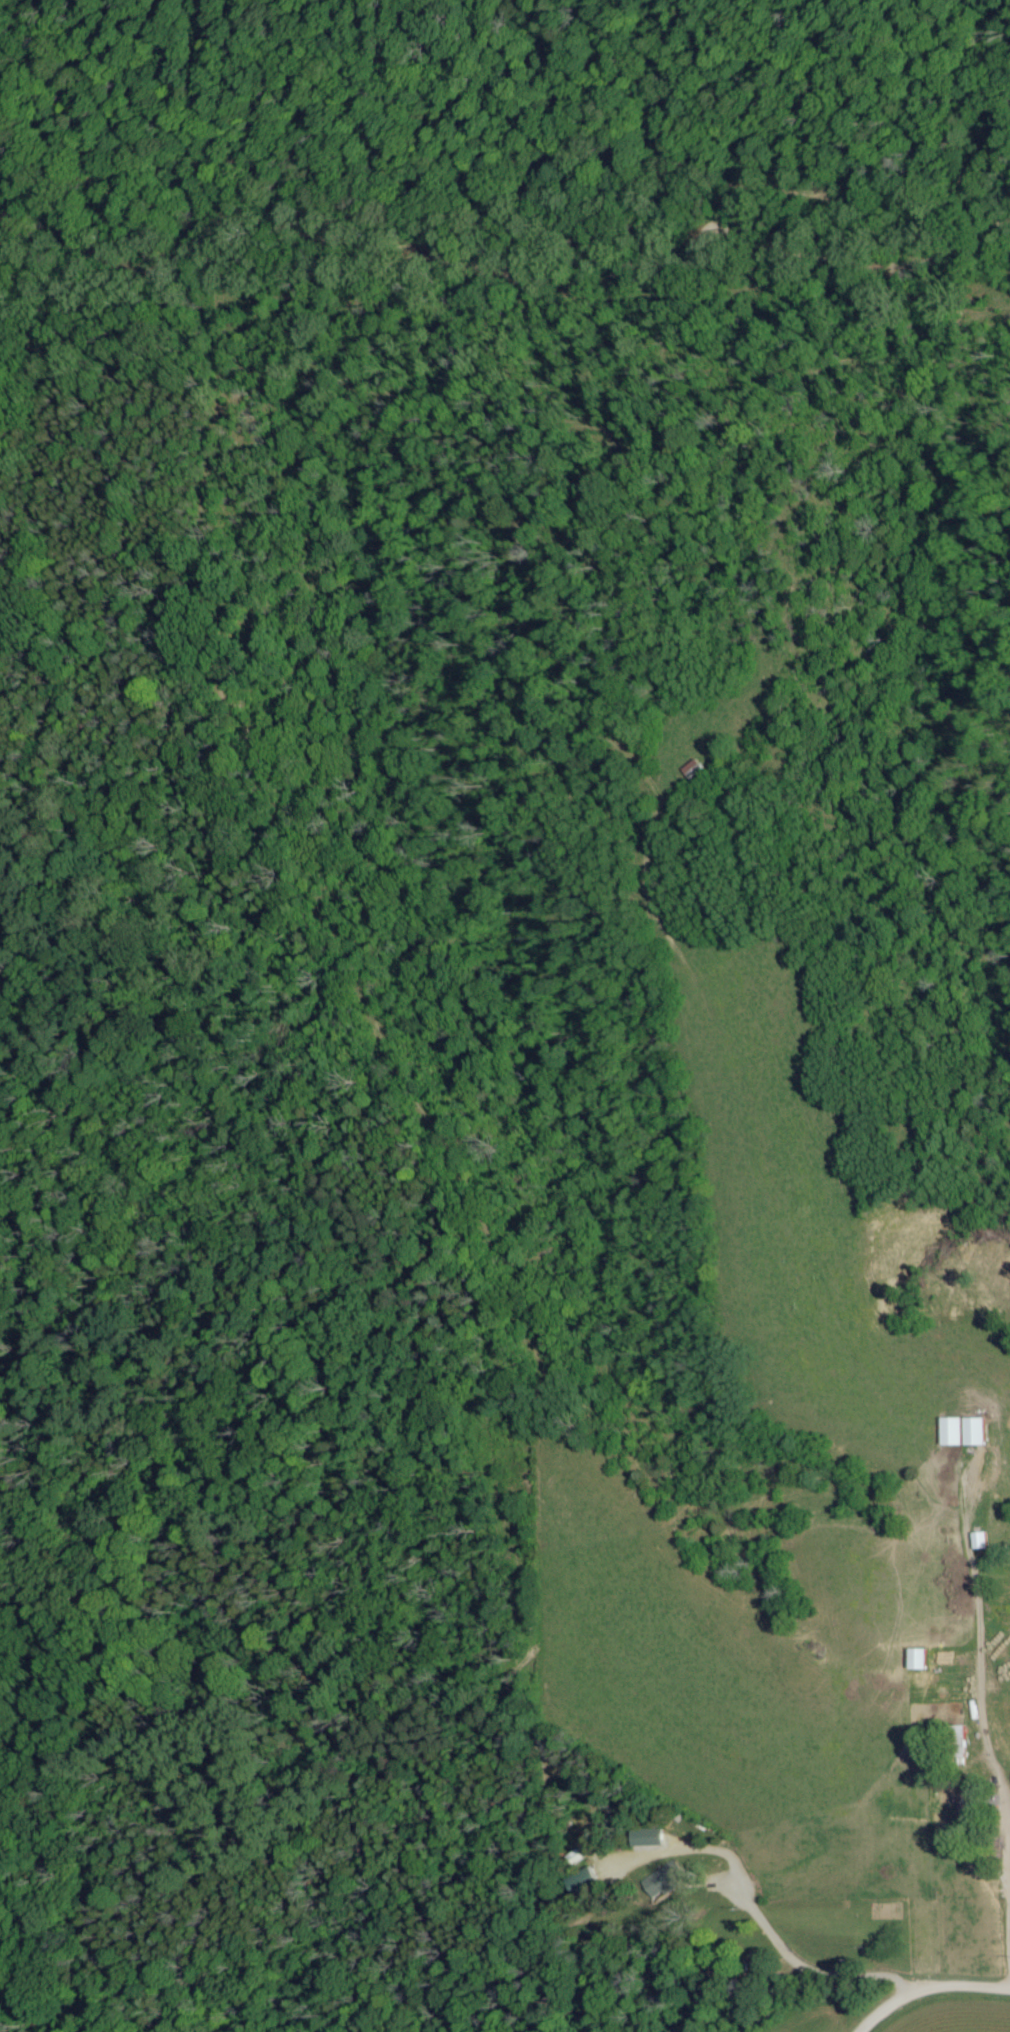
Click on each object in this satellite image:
building: (953, 1432)
building: (976, 1432)
building: (918, 1660)
road: (999, 1775)
building: (647, 1838)
building: (663, 1881)
building: (584, 1883)
road: (925, 1987)

